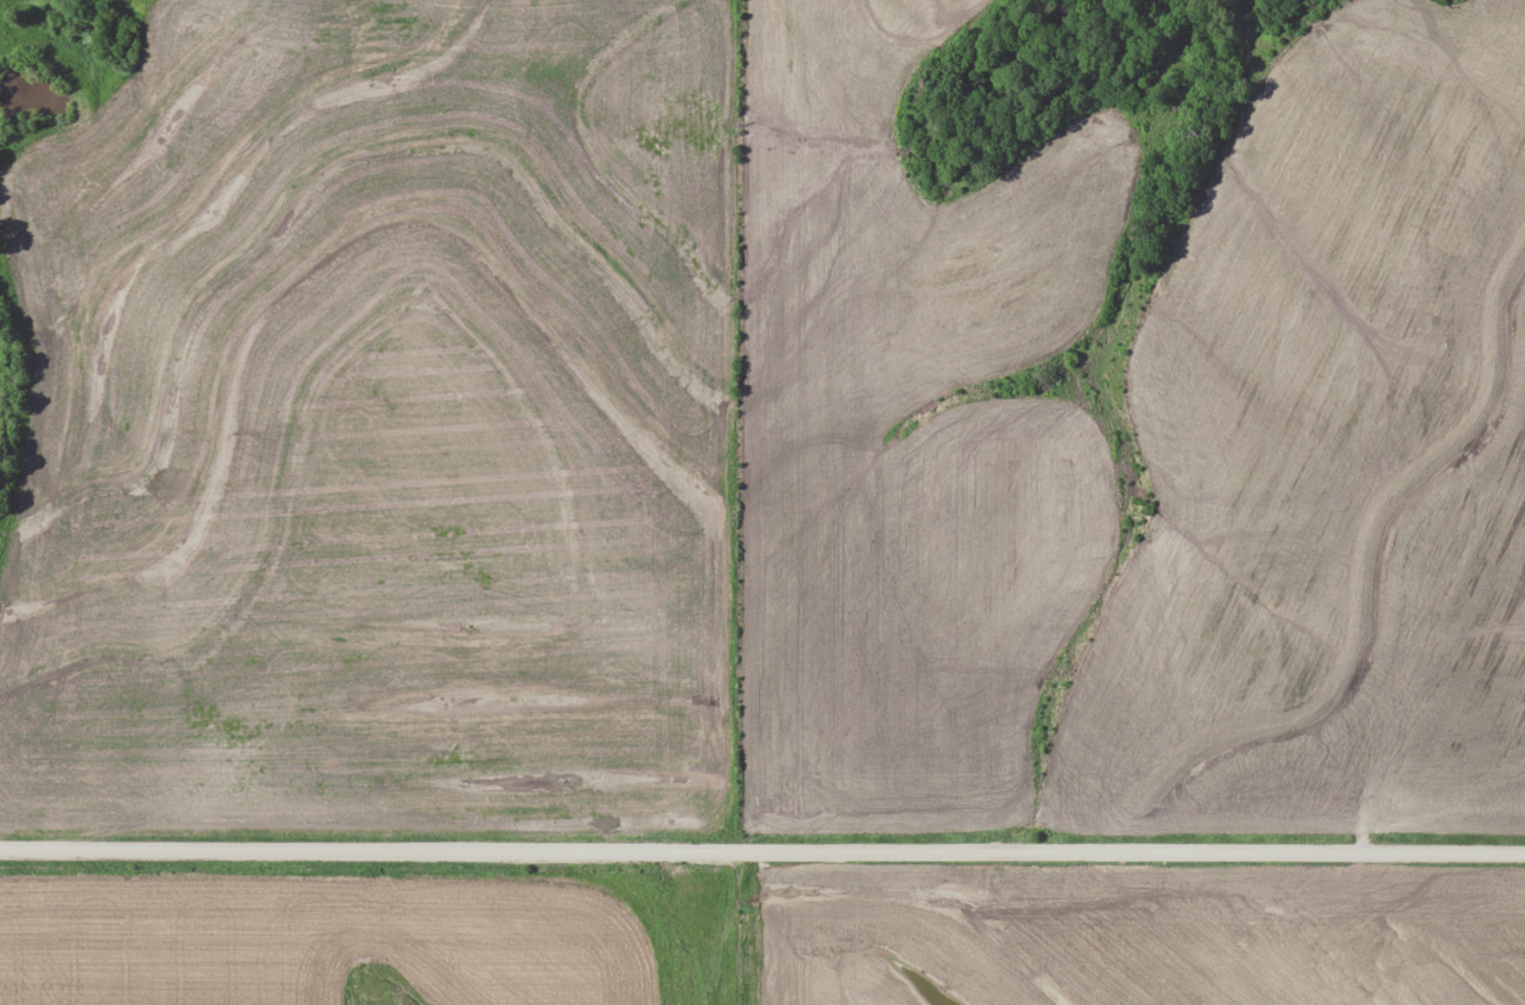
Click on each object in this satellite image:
road: (762, 853)

